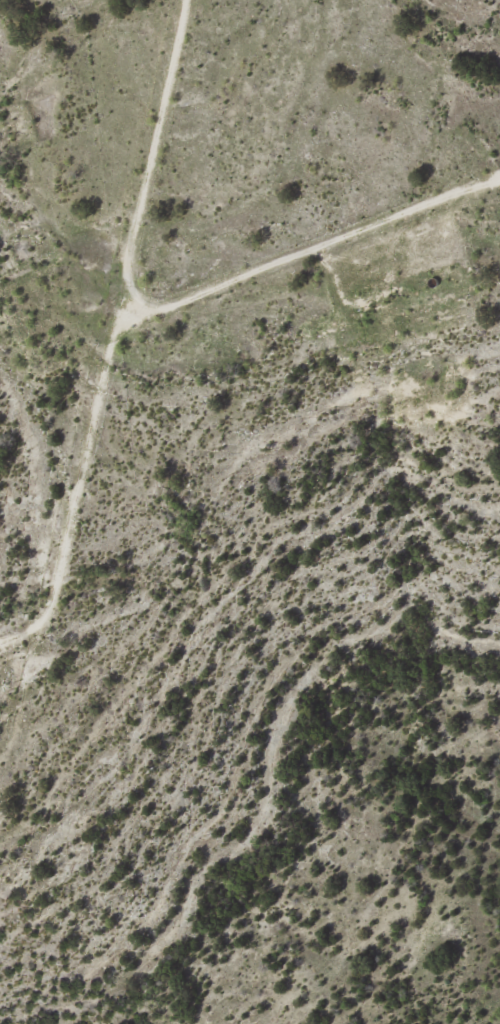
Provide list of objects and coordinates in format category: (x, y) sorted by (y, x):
road: (319, 202)

